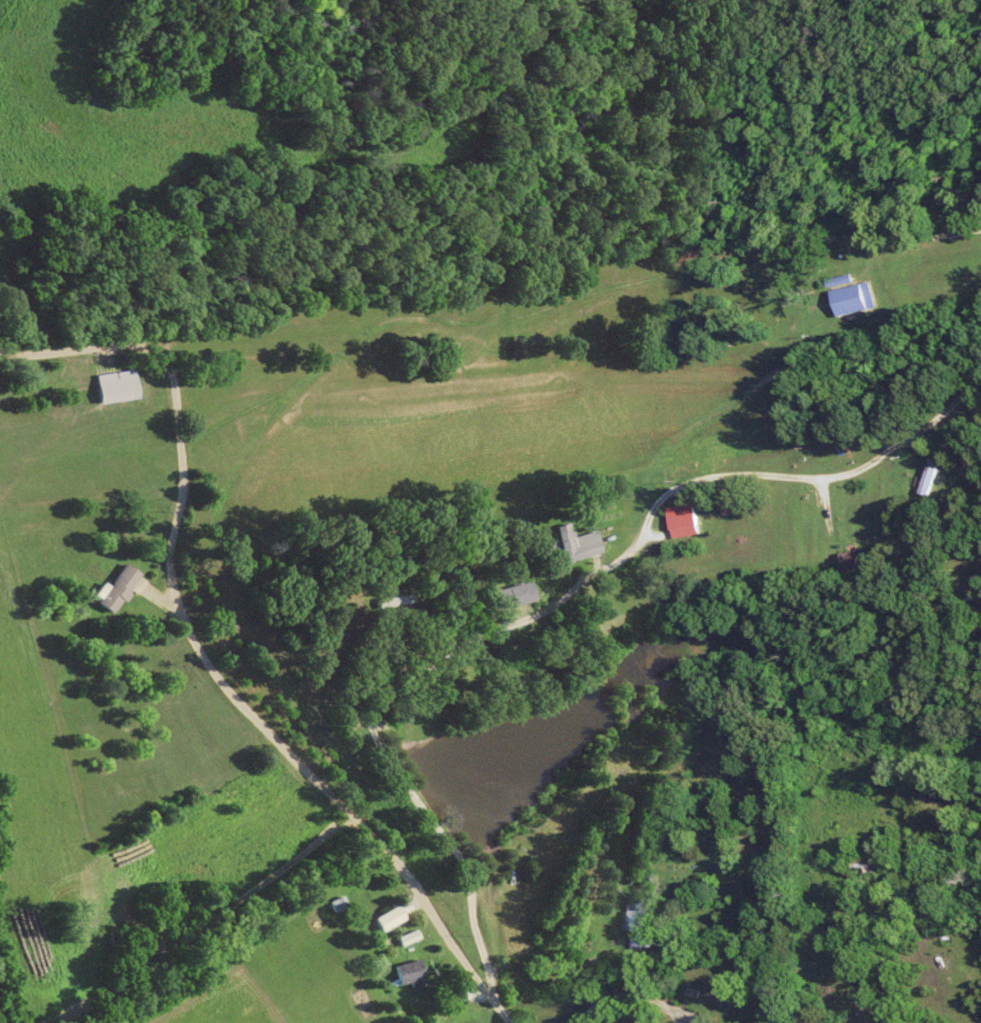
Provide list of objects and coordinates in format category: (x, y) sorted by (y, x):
road: (595, 291)
building: (853, 300)
building: (118, 386)
building: (684, 522)
building: (119, 588)
building: (518, 592)
road: (510, 604)
road: (205, 656)
building: (390, 918)
building: (642, 923)
building: (410, 937)
building: (412, 972)
road: (633, 998)

